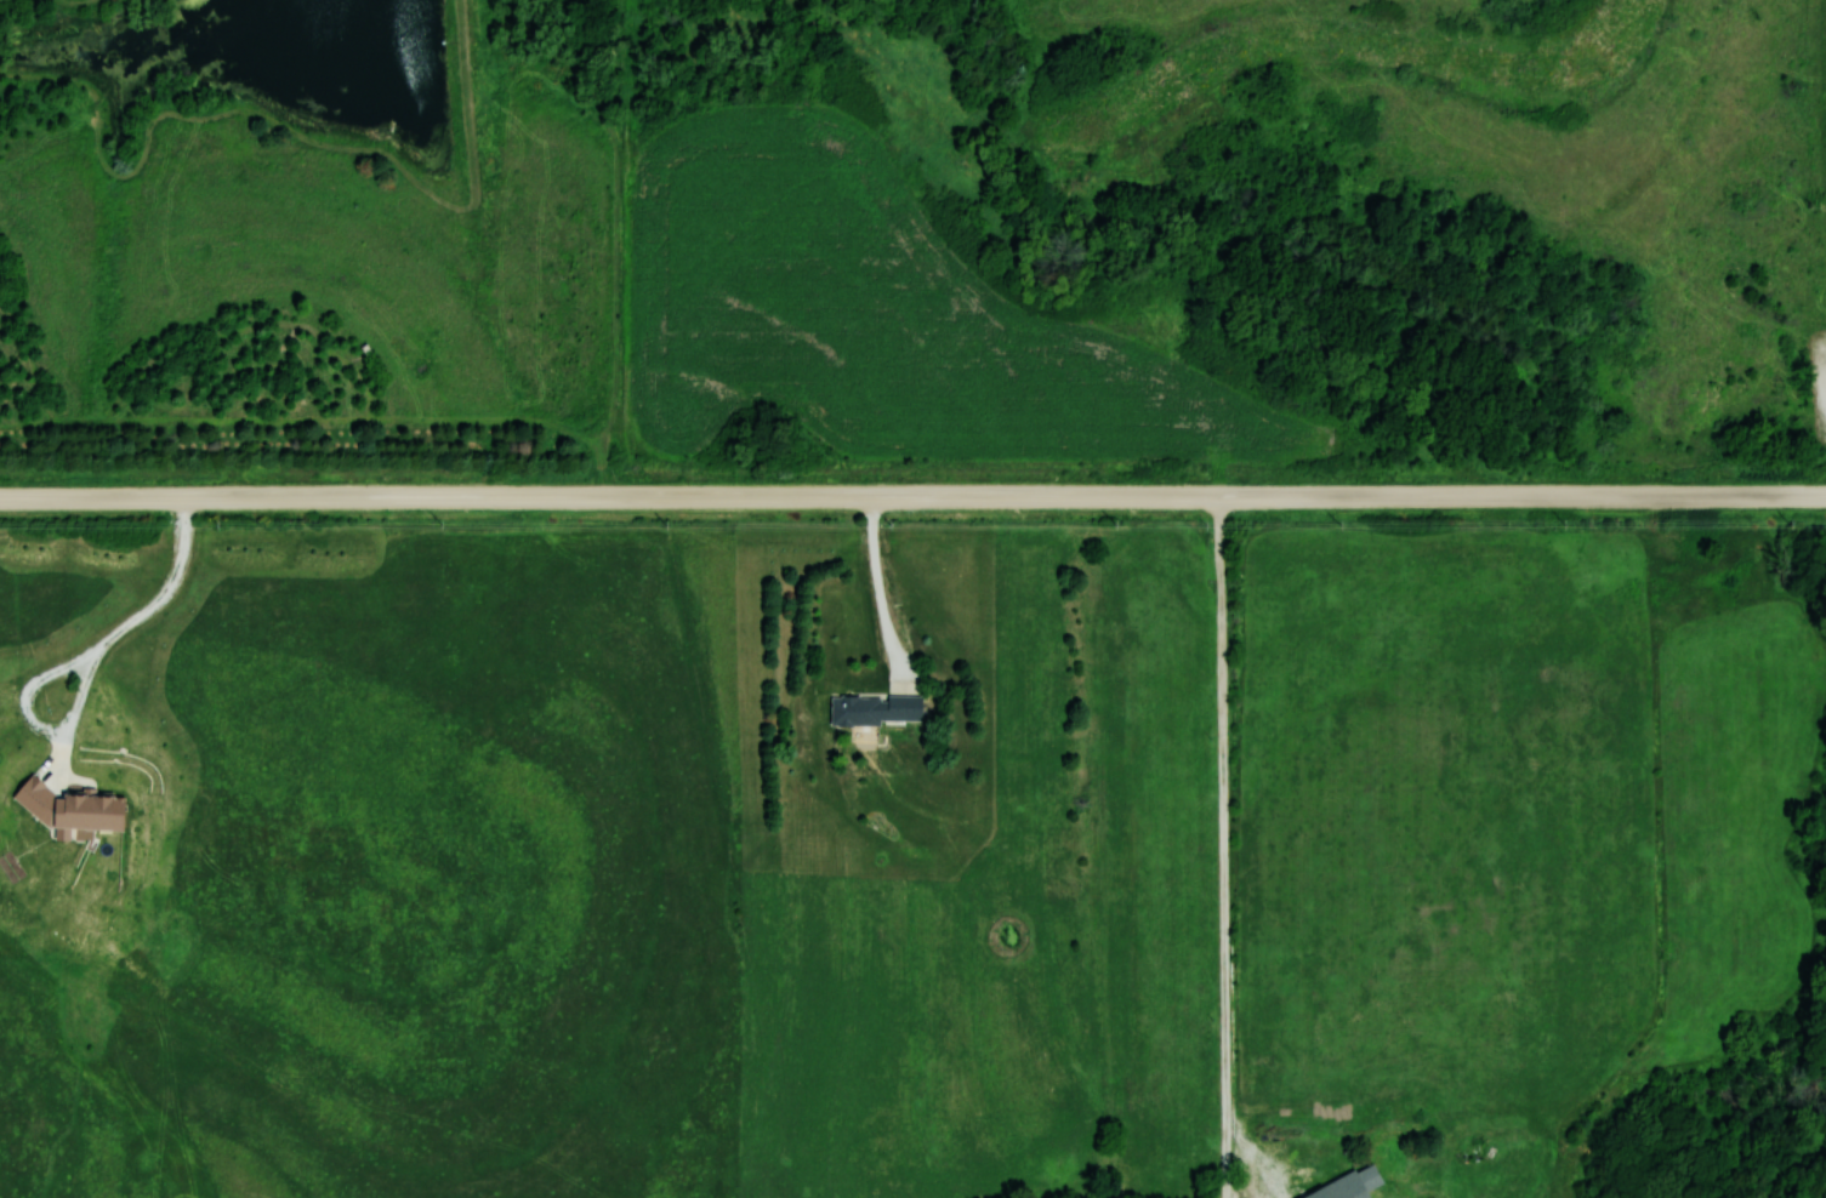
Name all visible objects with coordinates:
parking lot: (1819, 380)
road: (912, 497)
road: (880, 594)
road: (75, 663)
building: (874, 711)
building: (35, 795)
road: (1224, 846)

